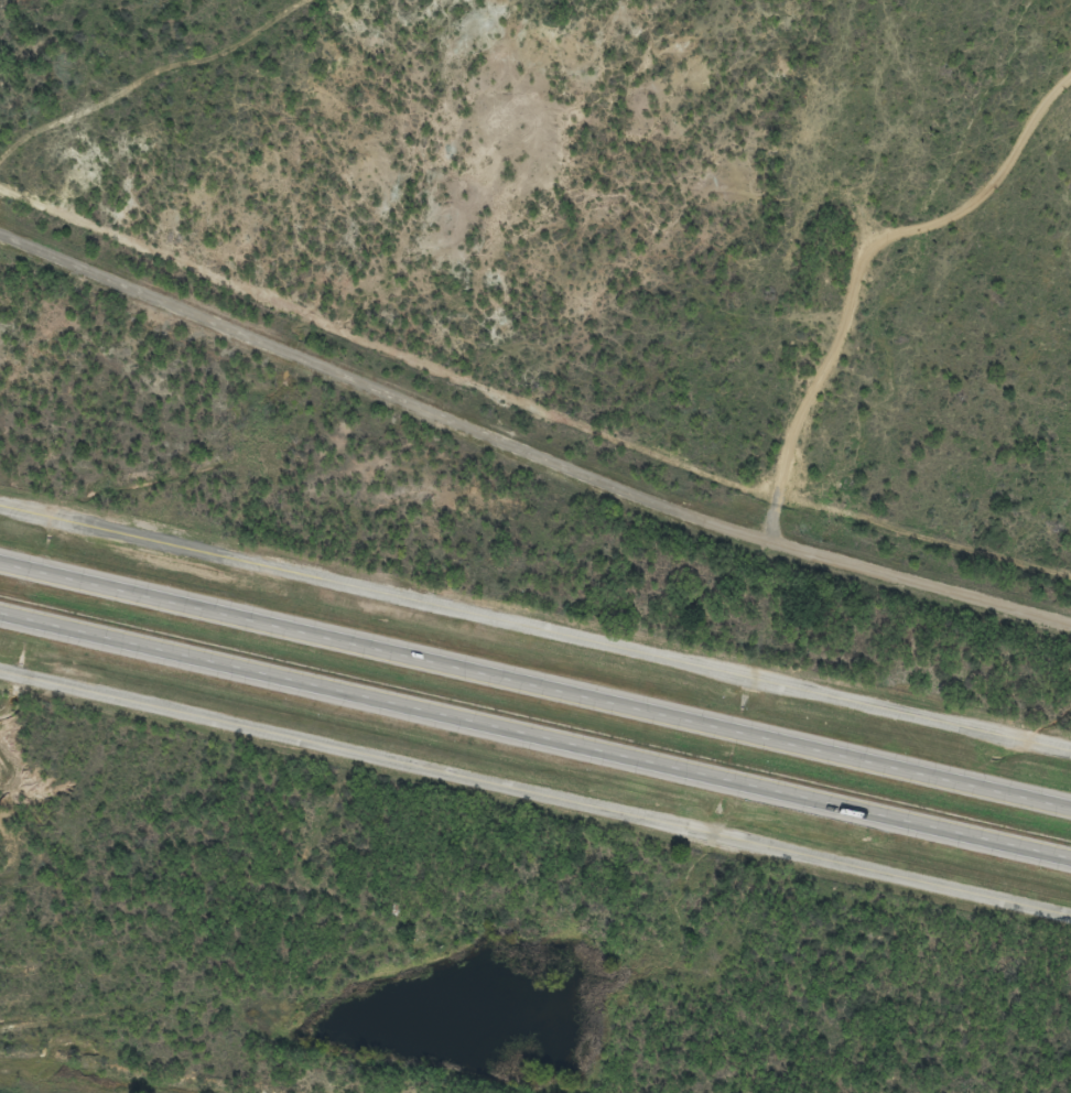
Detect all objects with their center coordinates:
road: (527, 450)
road: (535, 627)
road: (535, 684)
road: (535, 733)
road: (535, 796)

